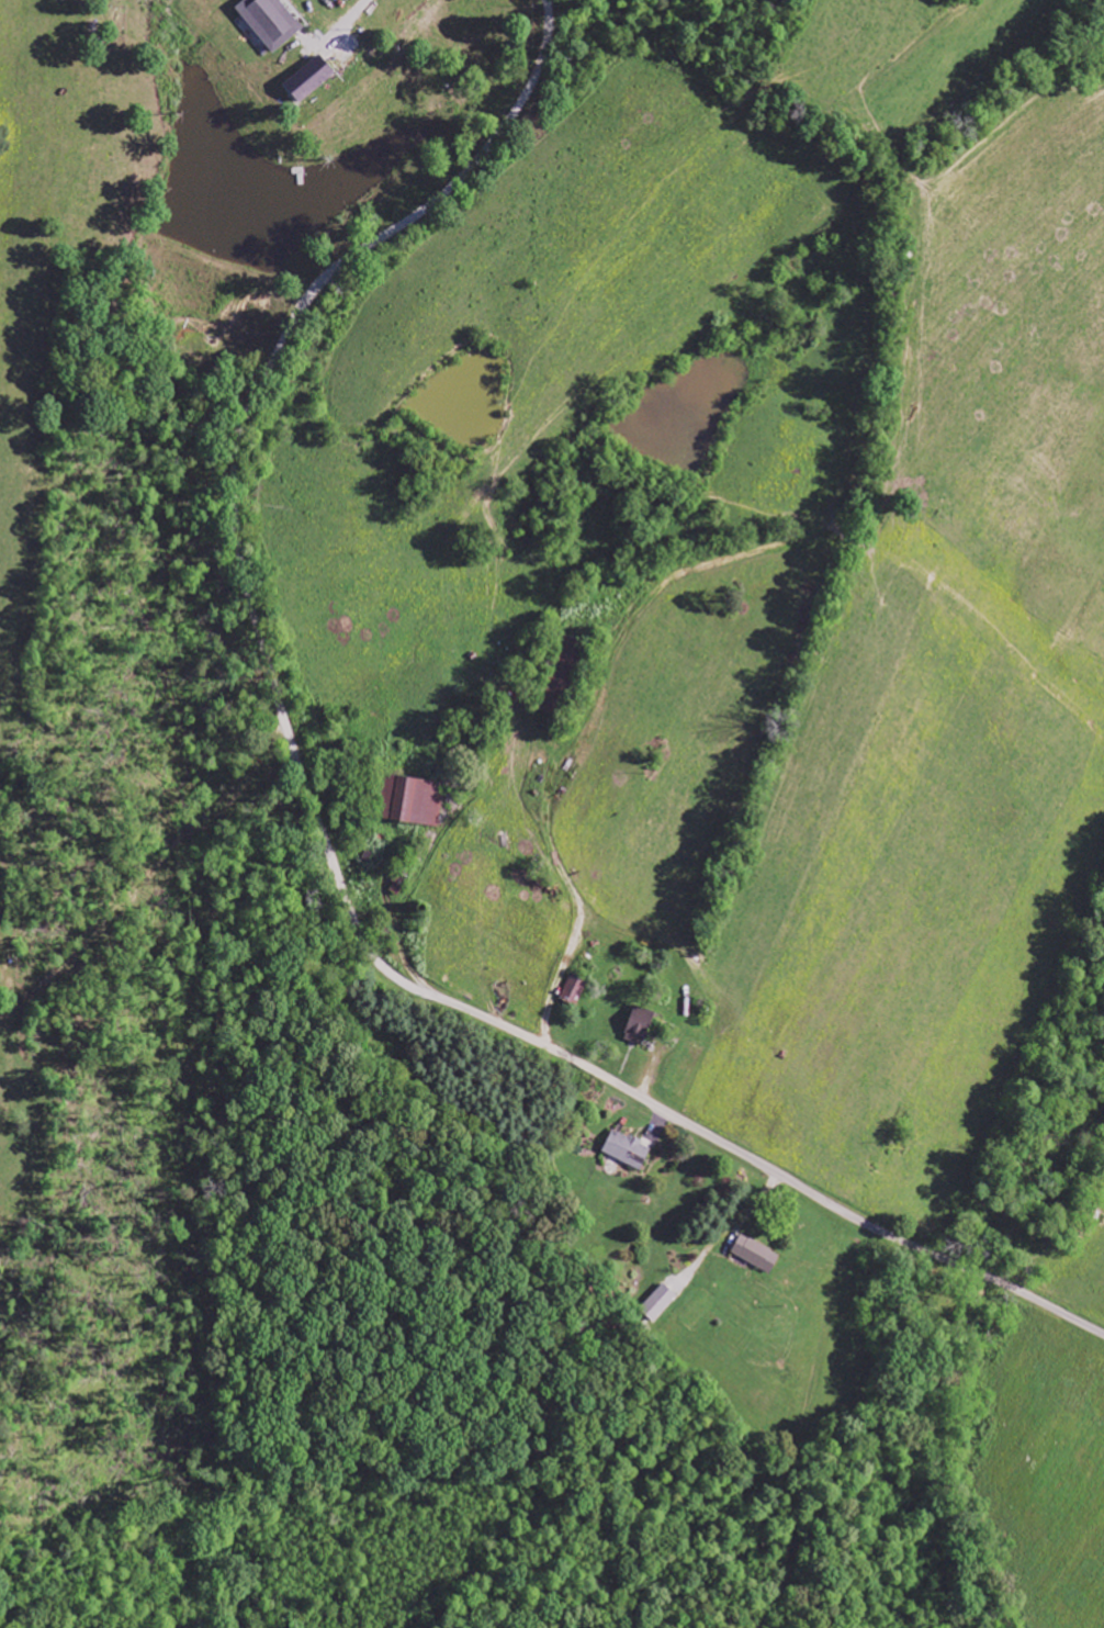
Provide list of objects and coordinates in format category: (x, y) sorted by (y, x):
building: (271, 22)
building: (311, 80)
building: (564, 675)
building: (415, 800)
road: (320, 827)
building: (575, 989)
building: (641, 1025)
building: (629, 1149)
building: (757, 1254)
building: (658, 1303)

